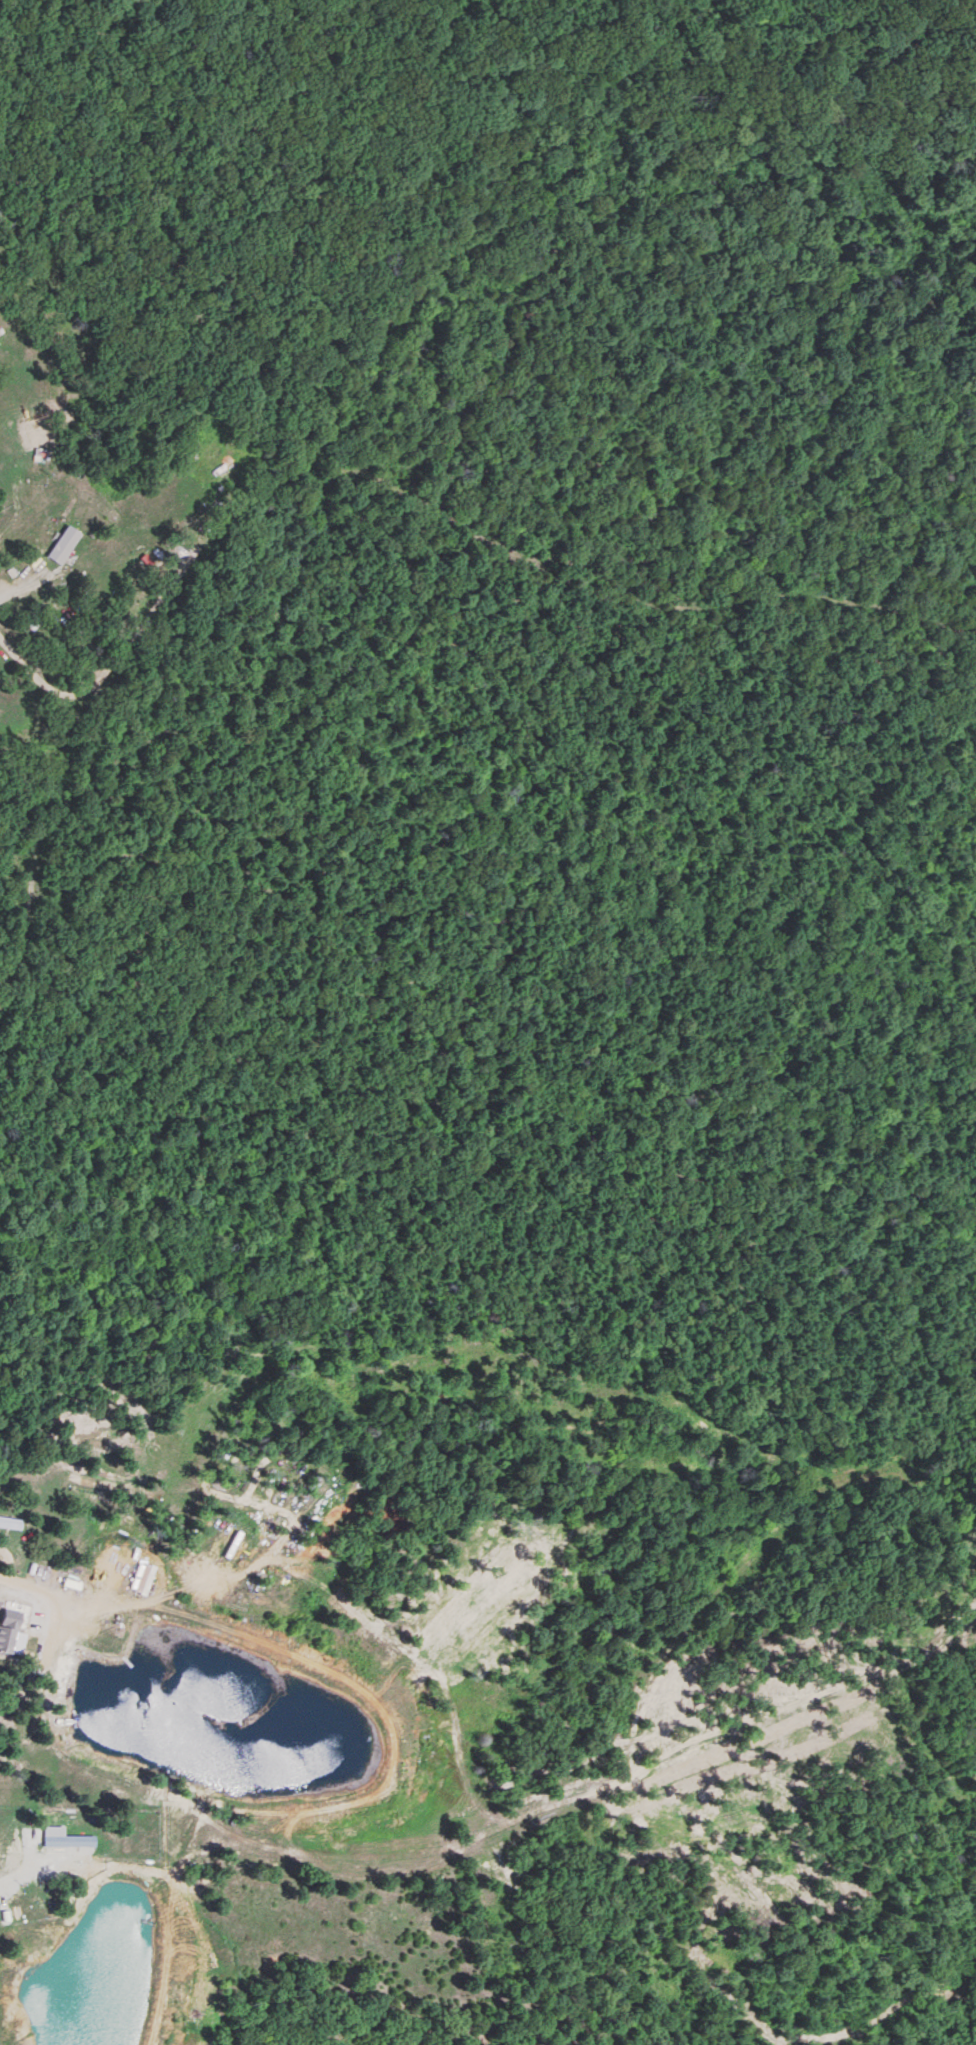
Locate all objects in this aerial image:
building: (28, 305)
building: (62, 545)
road: (15, 581)
park: (24, 868)
building: (7, 1522)
road: (1, 1575)
building: (4, 1645)
building: (74, 1841)

